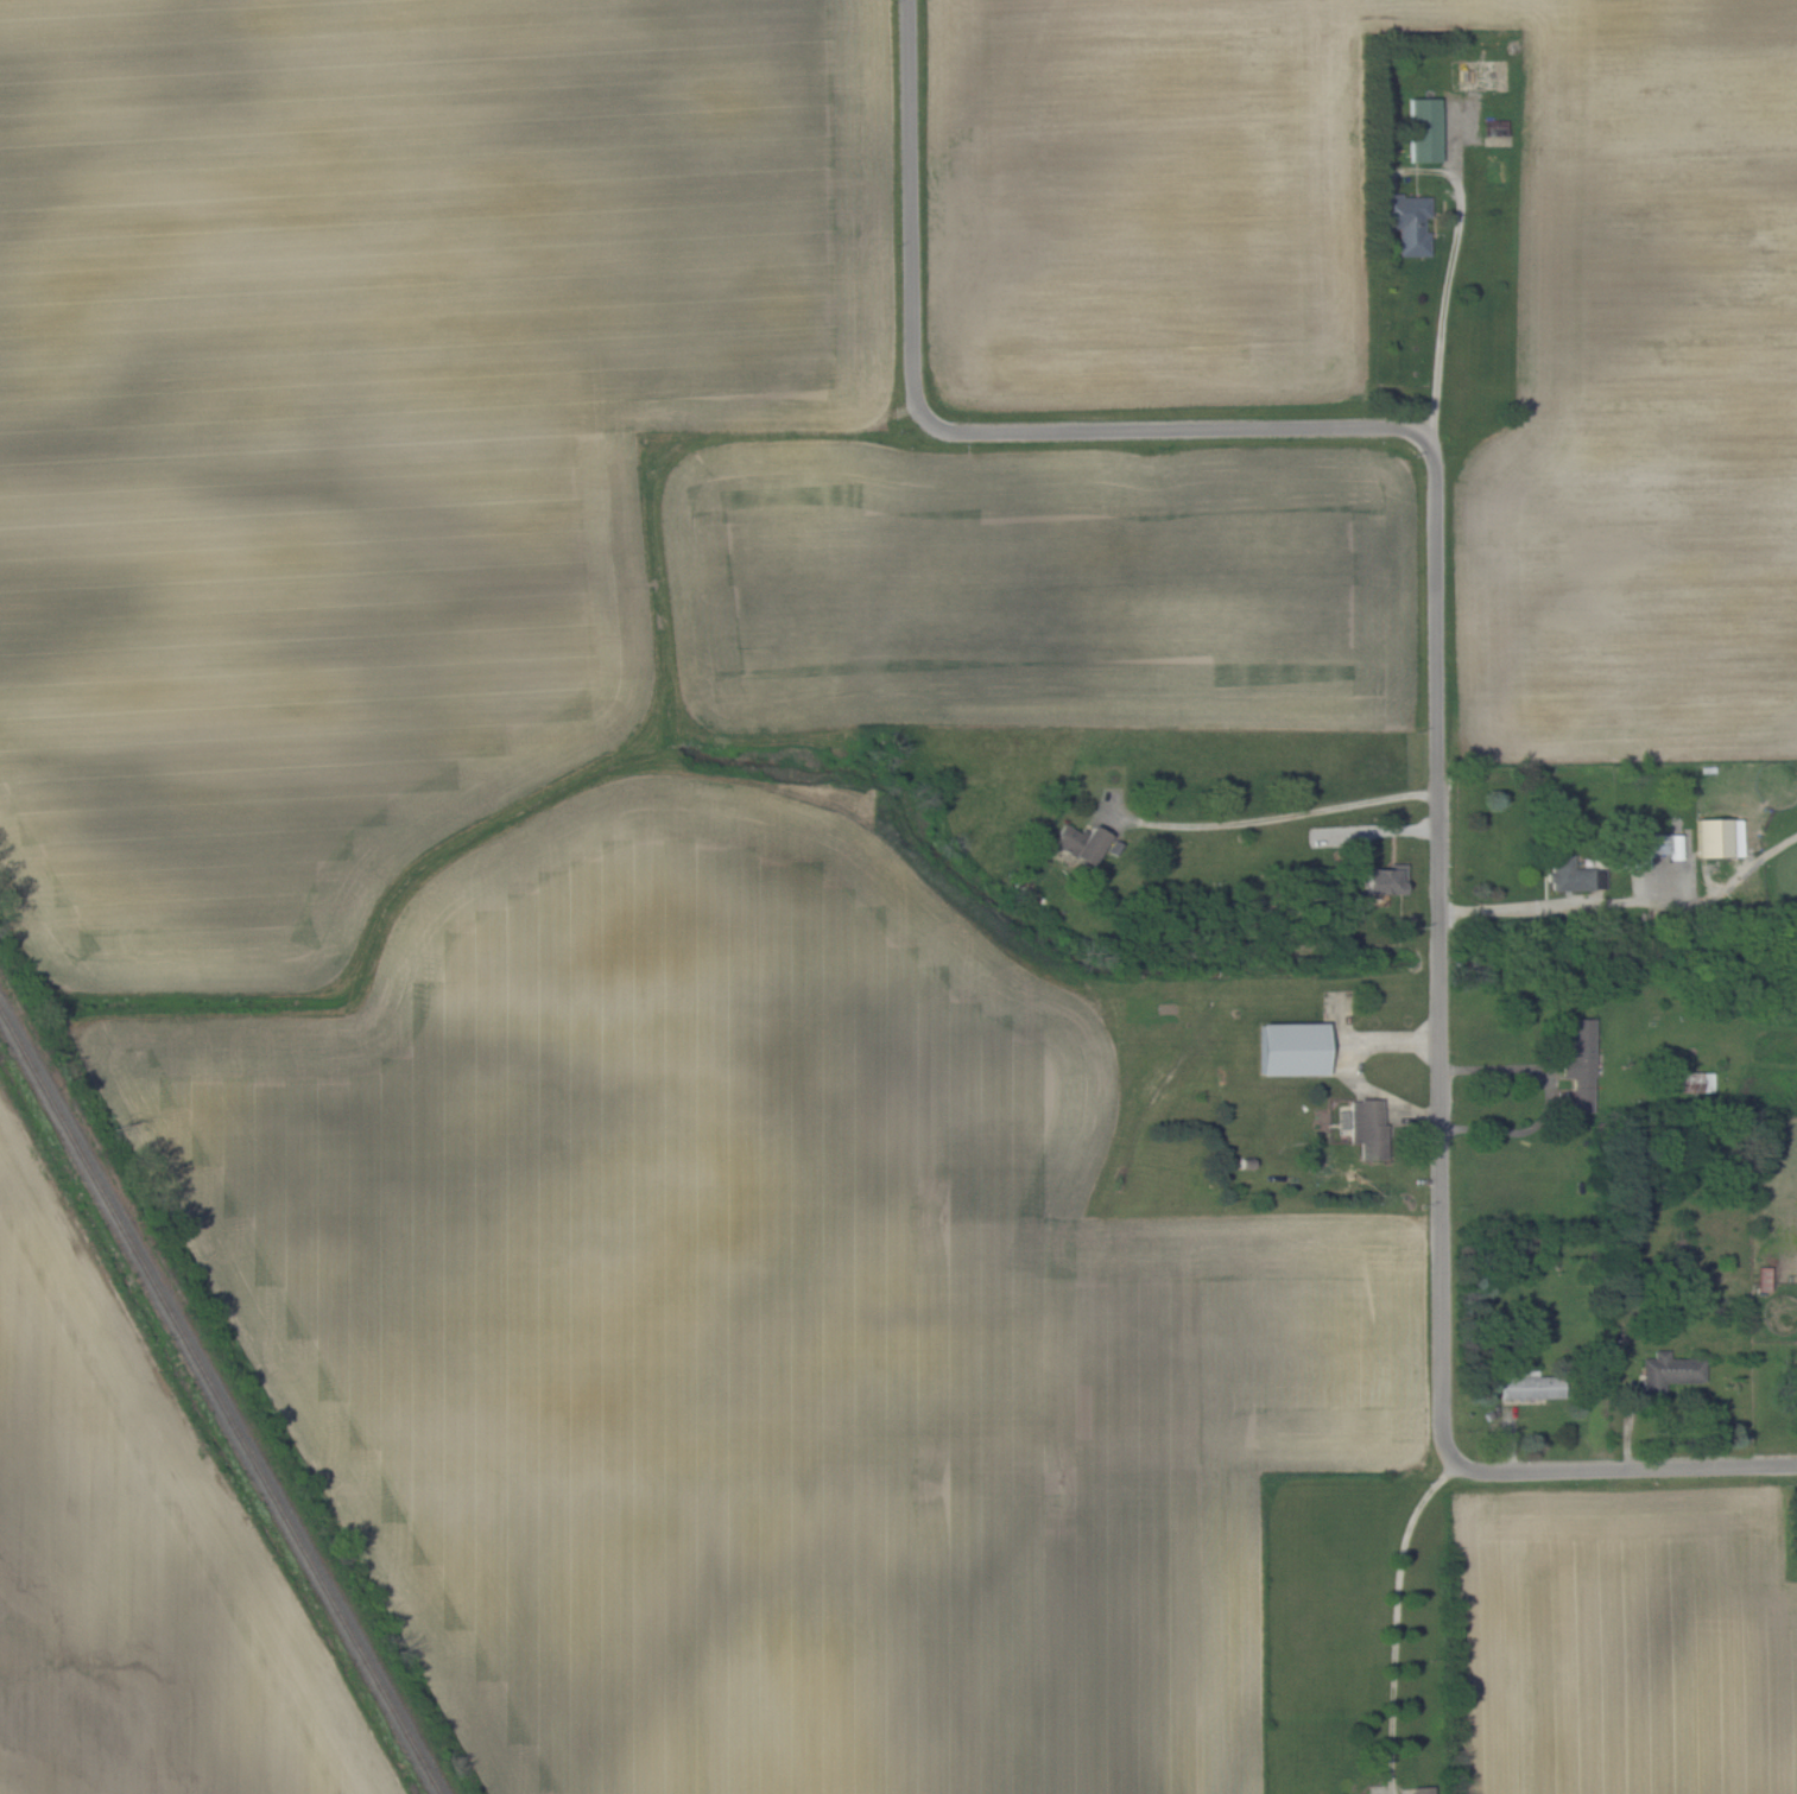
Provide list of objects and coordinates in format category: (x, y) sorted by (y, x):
building: (1423, 129)
road: (920, 202)
building: (1407, 222)
road: (1440, 294)
road: (1178, 427)
road: (1274, 816)
road: (1375, 830)
building: (1713, 836)
building: (1080, 841)
building: (1656, 847)
building: (1574, 874)
building: (1381, 881)
road: (1627, 901)
road: (1441, 949)
building: (1291, 1047)
road: (1342, 1060)
building: (1580, 1063)
road: (1552, 1097)
building: (1367, 1127)
building: (1668, 1371)
building: (1529, 1384)
railway: (219, 1403)
road: (1464, 1465)
road: (1643, 1466)
road: (1388, 1617)
building: (1422, 1789)

